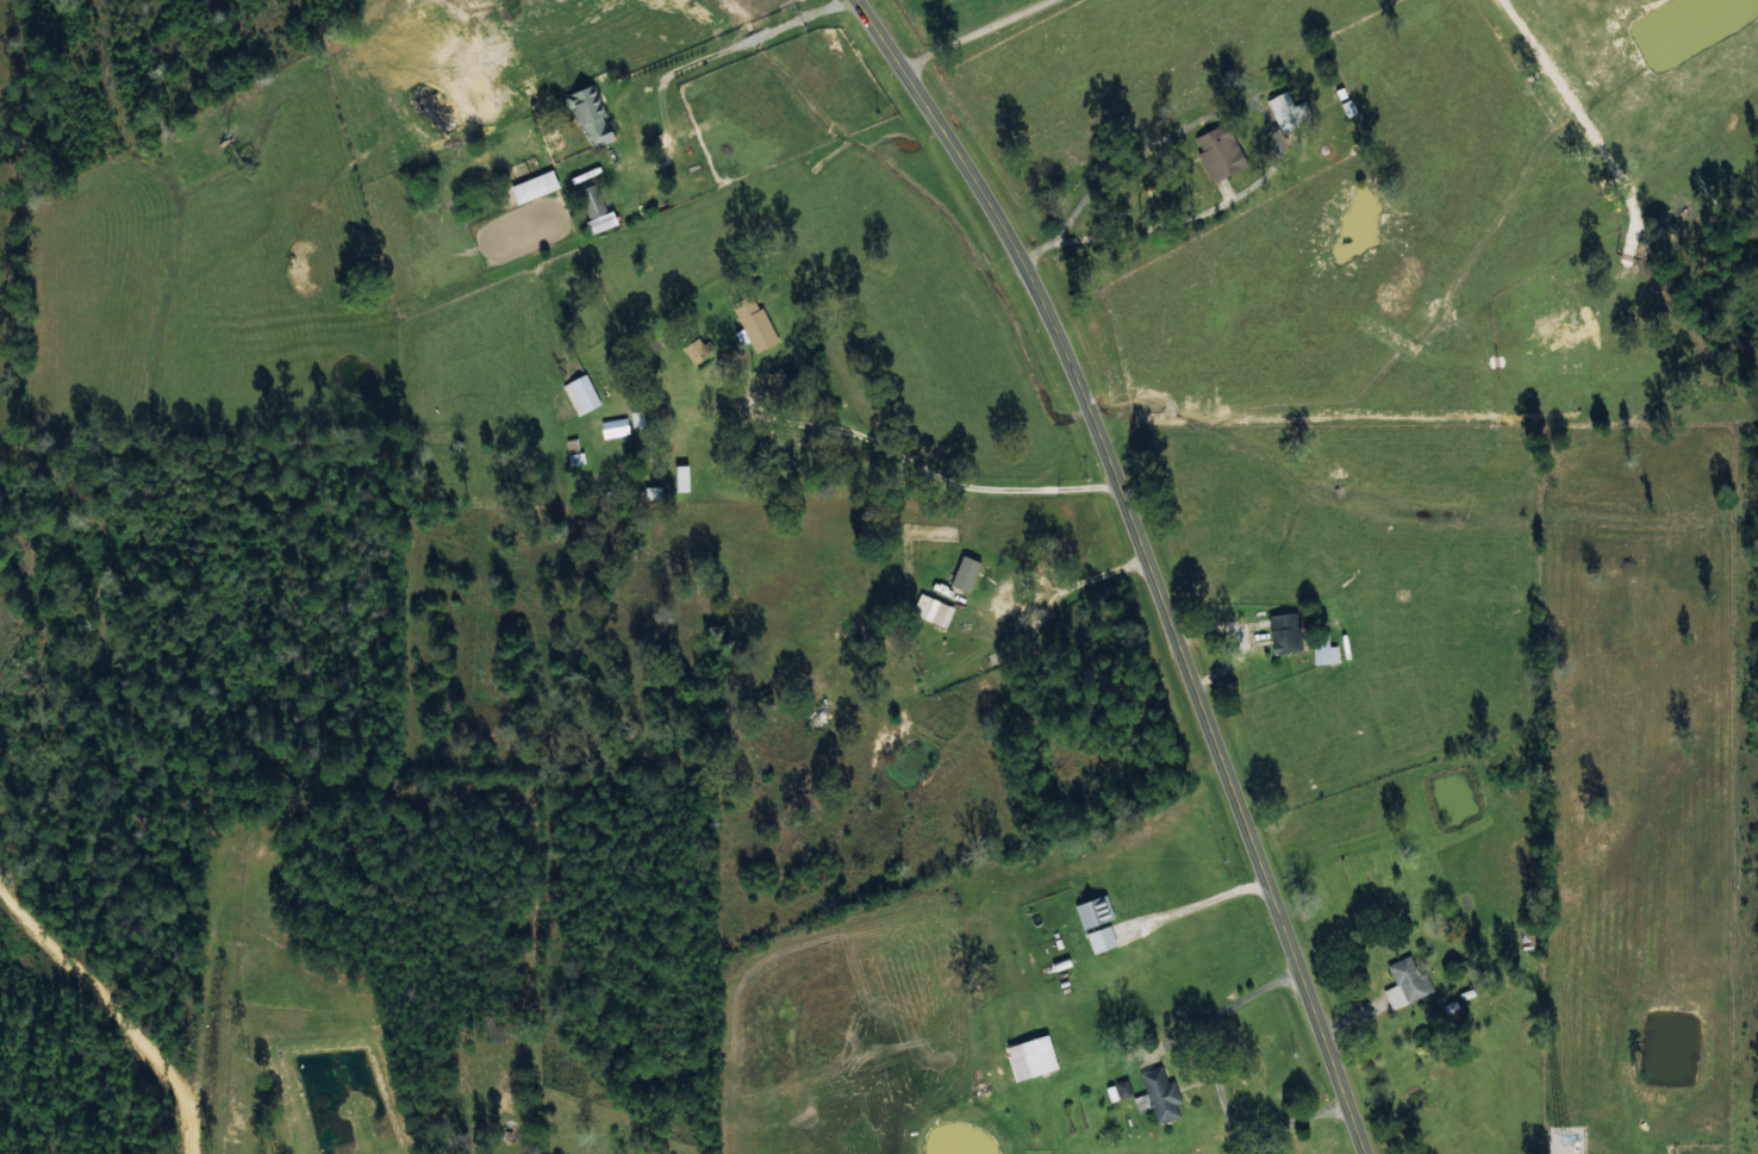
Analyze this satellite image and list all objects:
road: (912, 24)
building: (1288, 111)
building: (590, 116)
building: (1220, 151)
building: (534, 186)
building: (598, 208)
building: (754, 322)
building: (697, 349)
building: (581, 393)
building: (637, 418)
road: (1147, 559)
building: (965, 573)
building: (1285, 632)
building: (1323, 650)
building: (1093, 911)
building: (1101, 938)
building: (1405, 983)
building: (1031, 1056)
building: (1118, 1090)
building: (1158, 1094)

